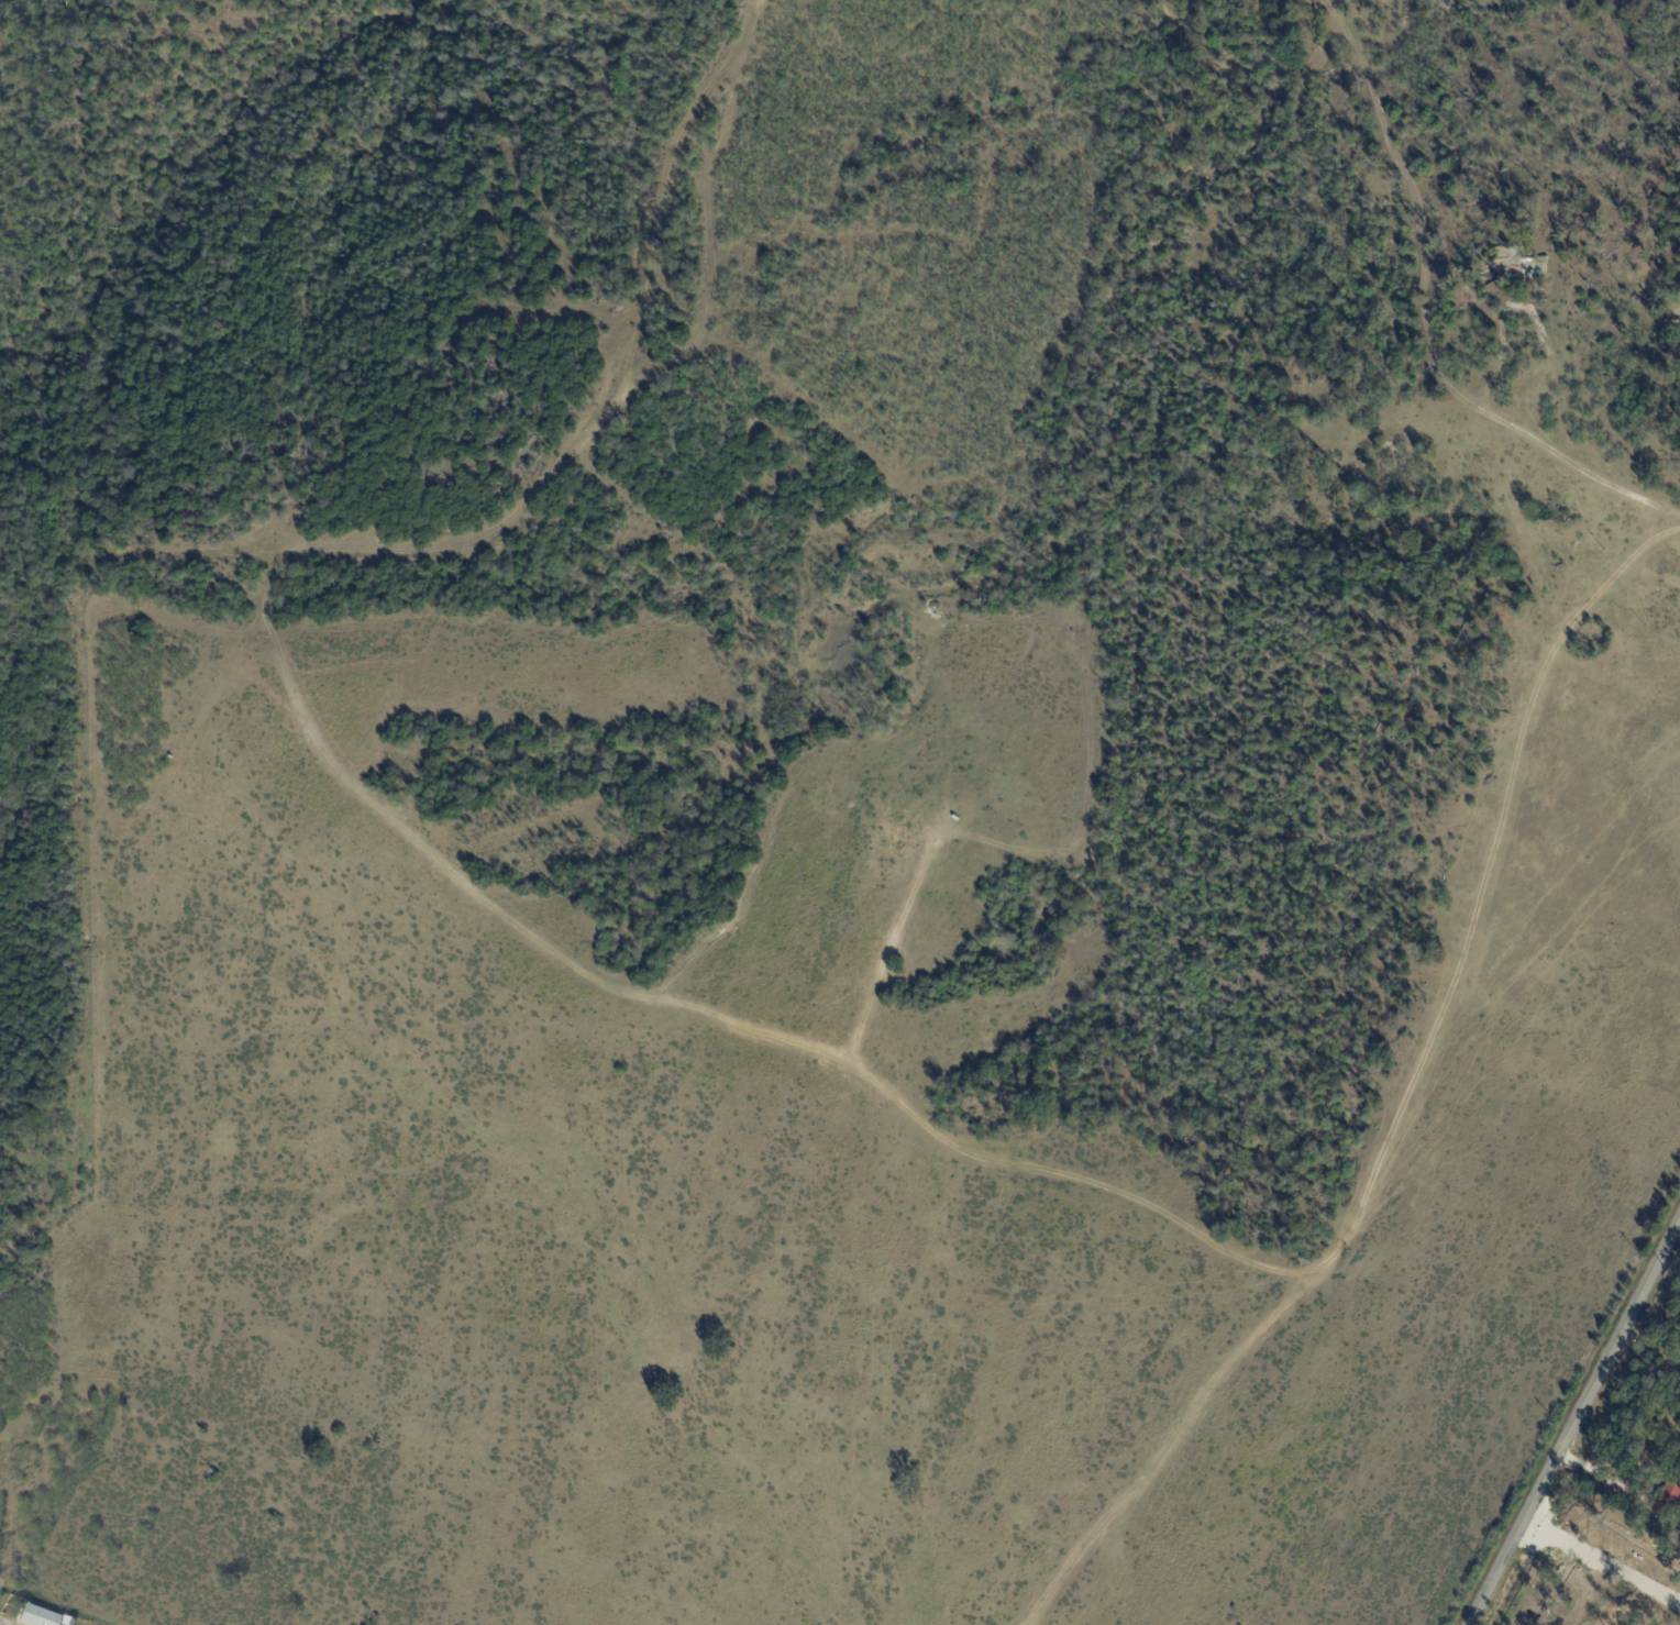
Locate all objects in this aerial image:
park: (131, 237)
building: (1522, 266)
road: (1477, 410)
road: (1573, 1422)
road: (1603, 1475)
building: (1673, 1490)
building: (36, 1616)
building: (66, 1620)
road: (2, 1624)

